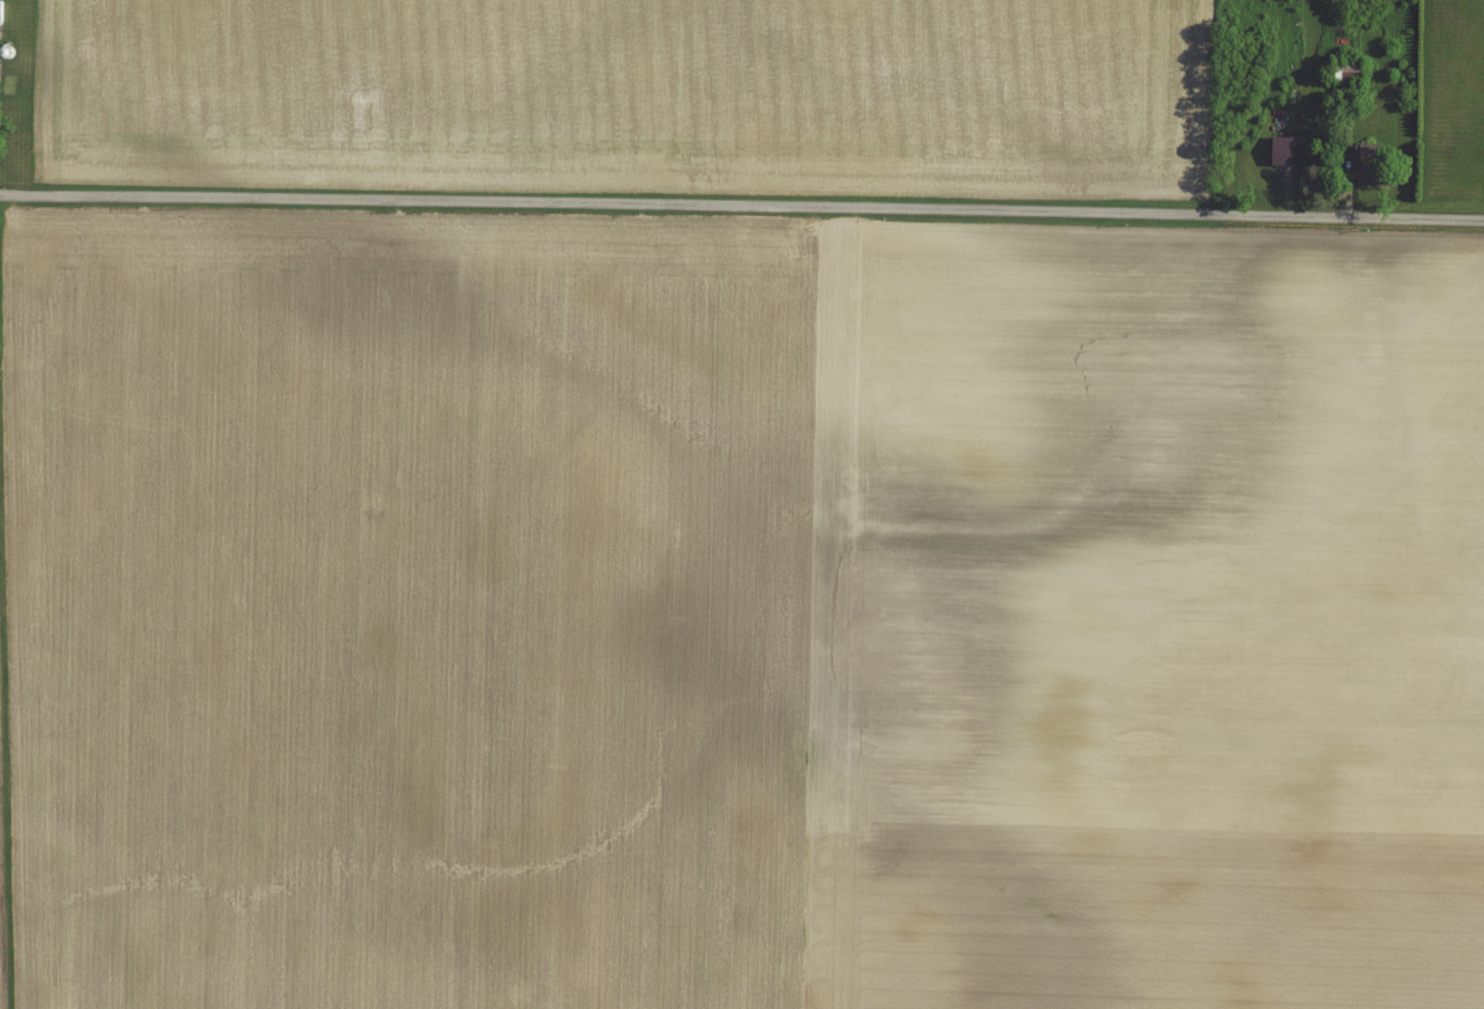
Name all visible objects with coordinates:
road: (742, 208)

